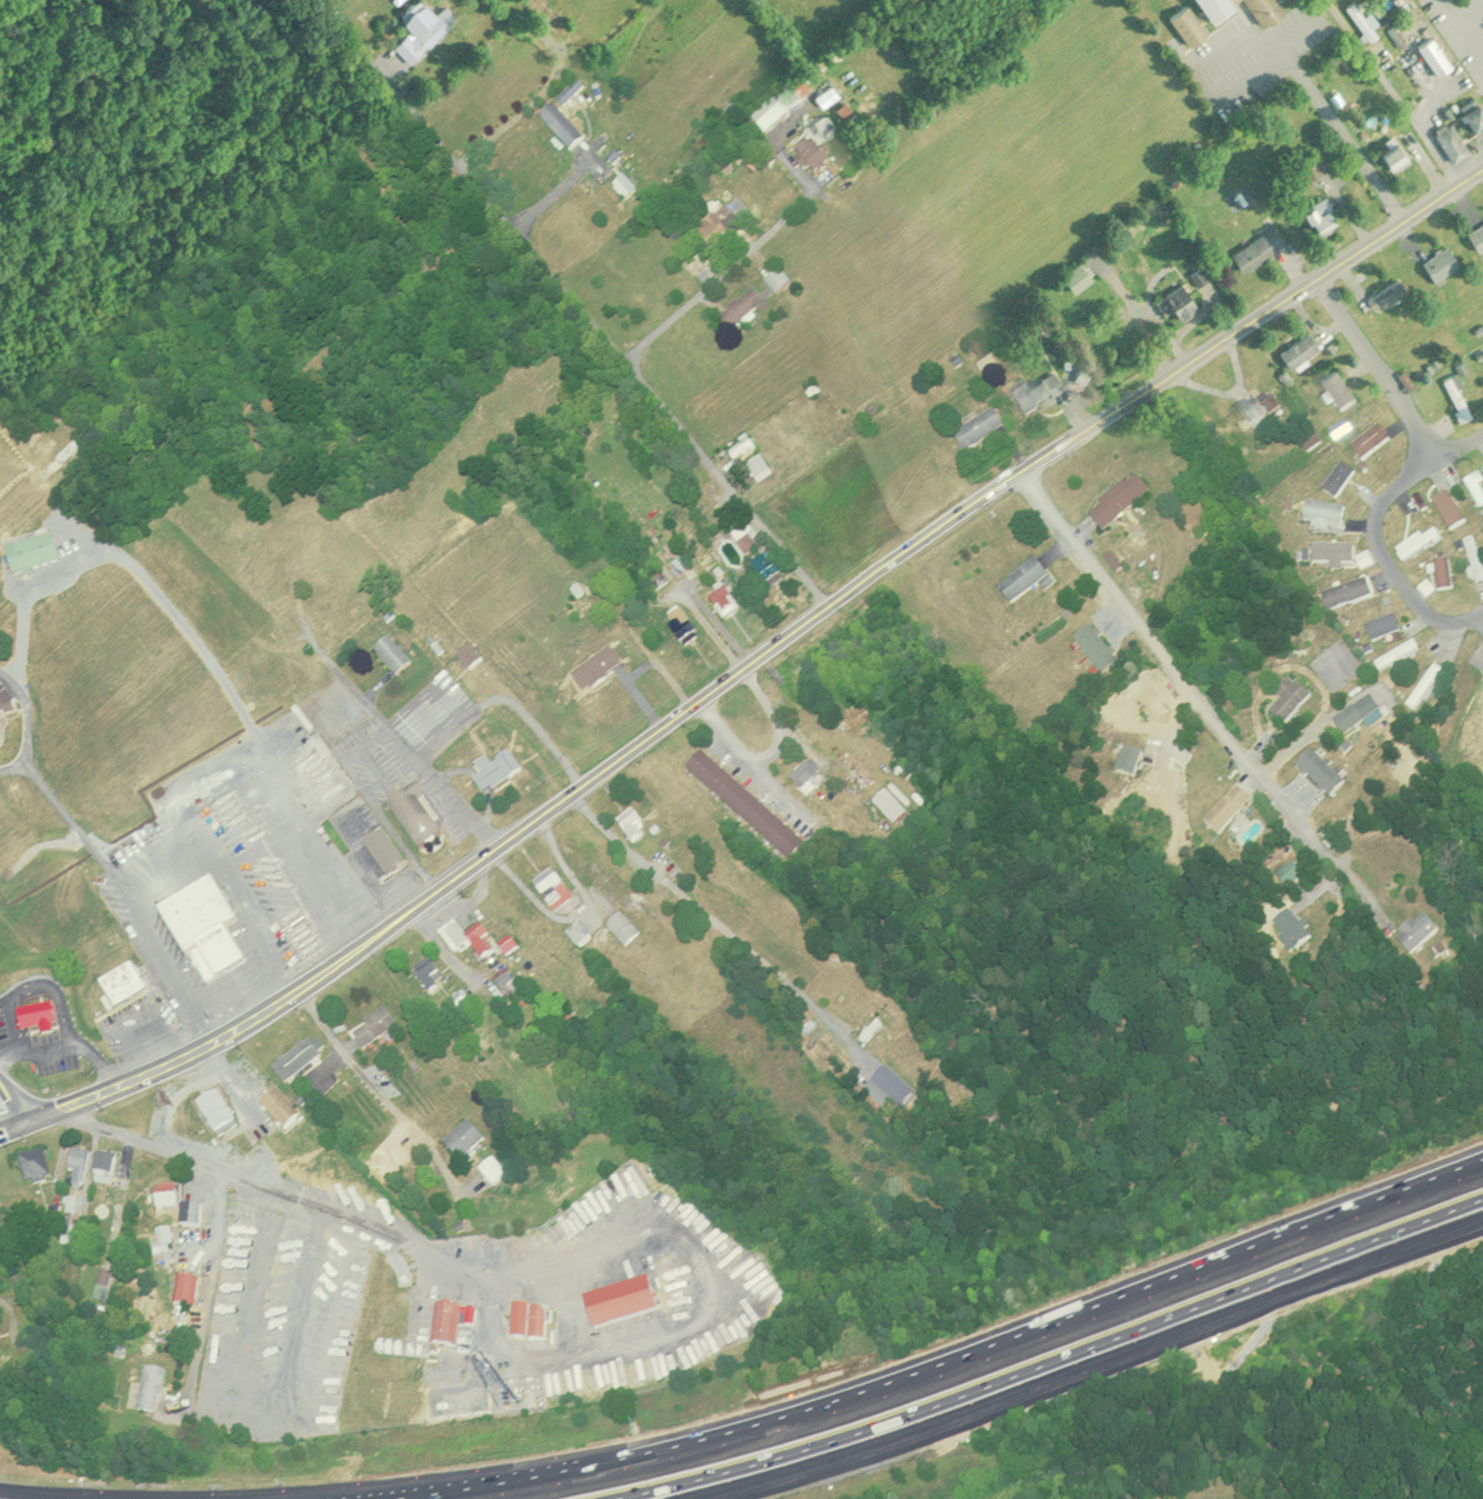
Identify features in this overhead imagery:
road: (1273, 50)
road: (1396, 91)
road: (429, 121)
road: (553, 189)
road: (779, 221)
road: (577, 297)
road: (1379, 366)
road: (1461, 443)
road: (1383, 556)
road: (134, 567)
road: (1166, 659)
road: (745, 660)
road: (7, 678)
road: (406, 744)
road: (753, 764)
road: (14, 767)
road: (176, 838)
road: (1352, 887)
road: (246, 899)
road: (701, 916)
road: (152, 942)
road: (287, 961)
road: (256, 977)
road: (223, 997)
road: (198, 1028)
road: (65, 1045)
road: (146, 1048)
road: (353, 1057)
road: (23, 1098)
road: (283, 1184)
road: (204, 1292)
road: (15, 1326)
road: (670, 1329)
road: (945, 1361)
road: (1088, 1366)
road: (47, 1494)

